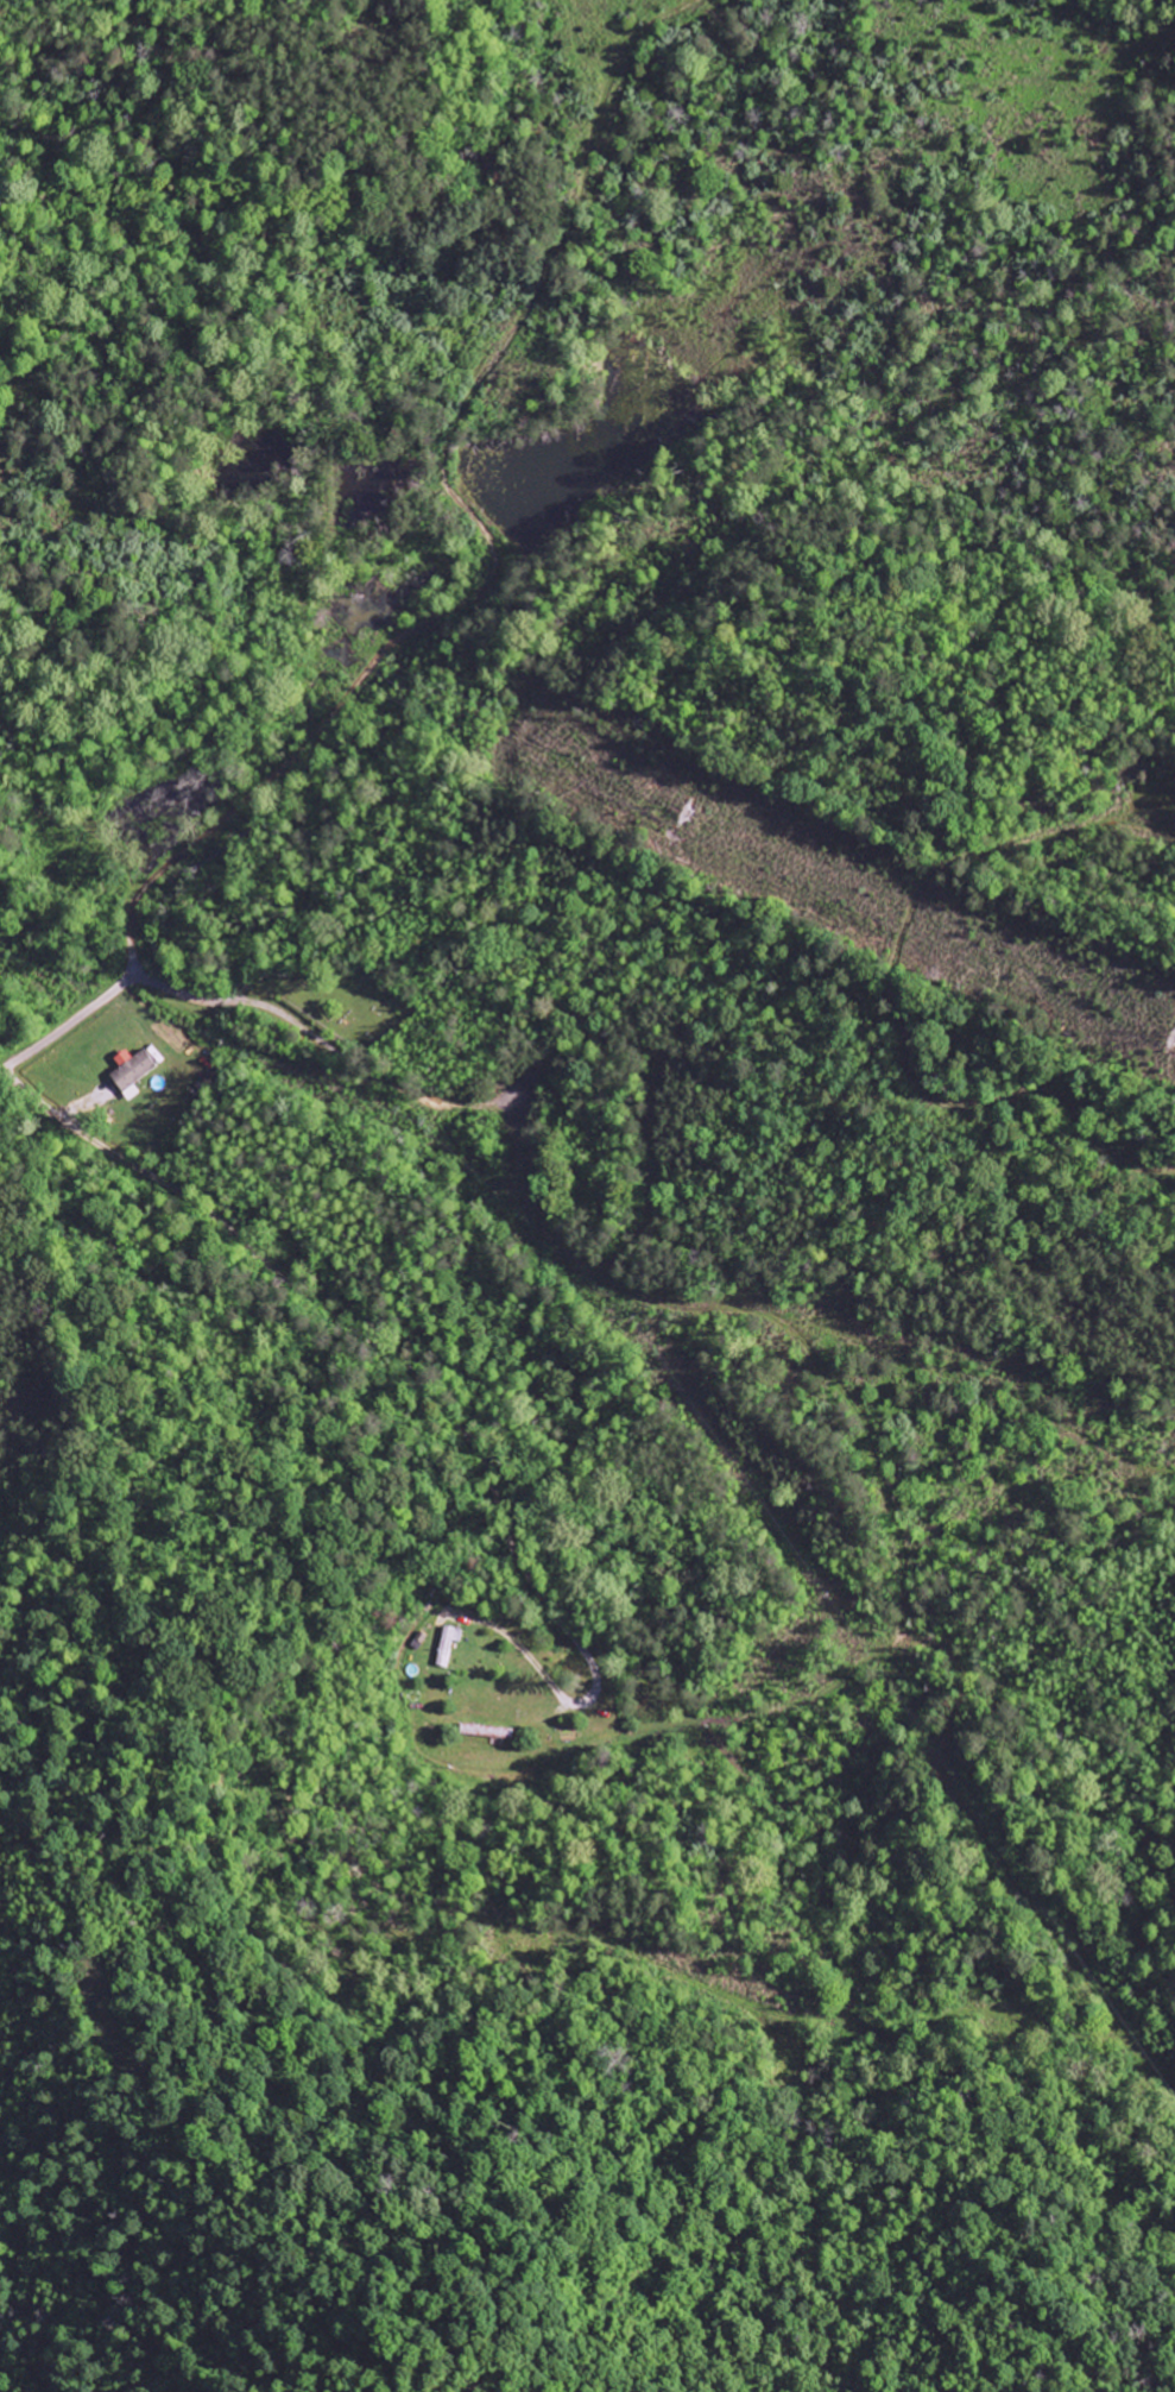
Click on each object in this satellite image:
road: (374, 663)
road: (67, 1020)
road: (326, 1045)
building: (133, 1079)
road: (145, 1178)

